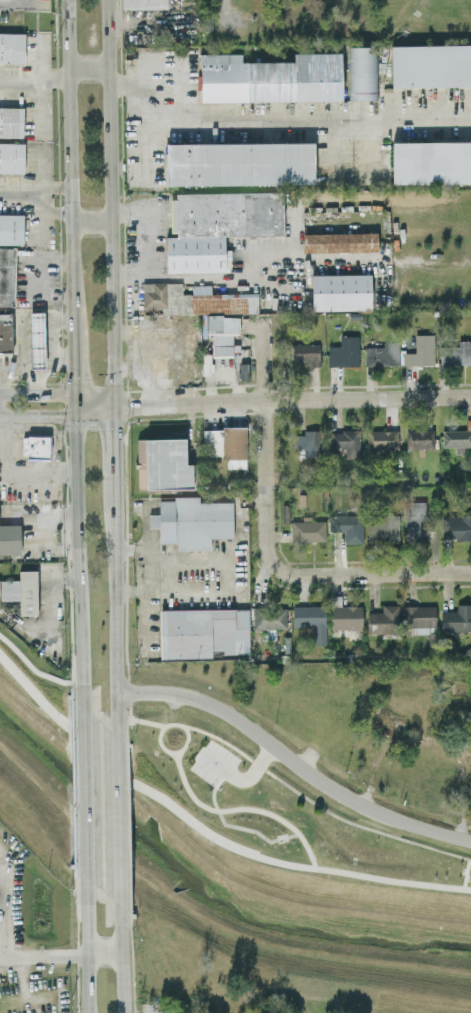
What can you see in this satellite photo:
building: (143, 4)
building: (12, 47)
building: (431, 65)
road: (88, 68)
road: (53, 73)
building: (362, 73)
building: (270, 78)
road: (19, 84)
road: (38, 84)
building: (11, 121)
road: (282, 121)
building: (11, 157)
road: (69, 158)
building: (431, 162)
building: (239, 163)
road: (53, 185)
road: (18, 195)
road: (37, 198)
road: (110, 202)
road: (54, 212)
road: (90, 220)
building: (218, 226)
building: (11, 229)
road: (148, 241)
building: (339, 242)
building: (7, 276)
building: (341, 292)
building: (222, 317)
building: (6, 332)
building: (37, 339)
building: (420, 351)
building: (344, 352)
building: (305, 353)
building: (456, 353)
building: (382, 354)
road: (64, 356)
road: (74, 356)
road: (54, 359)
road: (33, 384)
road: (37, 396)
road: (367, 397)
road: (95, 401)
road: (189, 401)
road: (75, 406)
road: (95, 409)
road: (37, 415)
building: (383, 438)
building: (419, 438)
building: (456, 438)
building: (307, 441)
building: (348, 441)
building: (225, 444)
building: (34, 446)
road: (116, 464)
building: (162, 464)
road: (17, 467)
building: (413, 518)
building: (191, 521)
building: (347, 526)
building: (456, 526)
building: (382, 527)
building: (307, 529)
road: (265, 536)
building: (9, 538)
road: (150, 560)
road: (77, 568)
road: (425, 572)
building: (21, 591)
building: (268, 616)
building: (419, 618)
building: (457, 618)
building: (310, 619)
building: (383, 619)
road: (148, 632)
building: (202, 632)
road: (119, 640)
road: (33, 668)
road: (134, 719)
road: (166, 724)
road: (295, 761)
parking lot: (213, 763)
road: (239, 778)
road: (81, 783)
road: (319, 805)
road: (241, 807)
road: (123, 818)
road: (234, 825)
road: (205, 832)
road: (465, 873)
road: (83, 929)
road: (124, 946)
road: (104, 952)
road: (2, 954)
building: (175, 1008)

